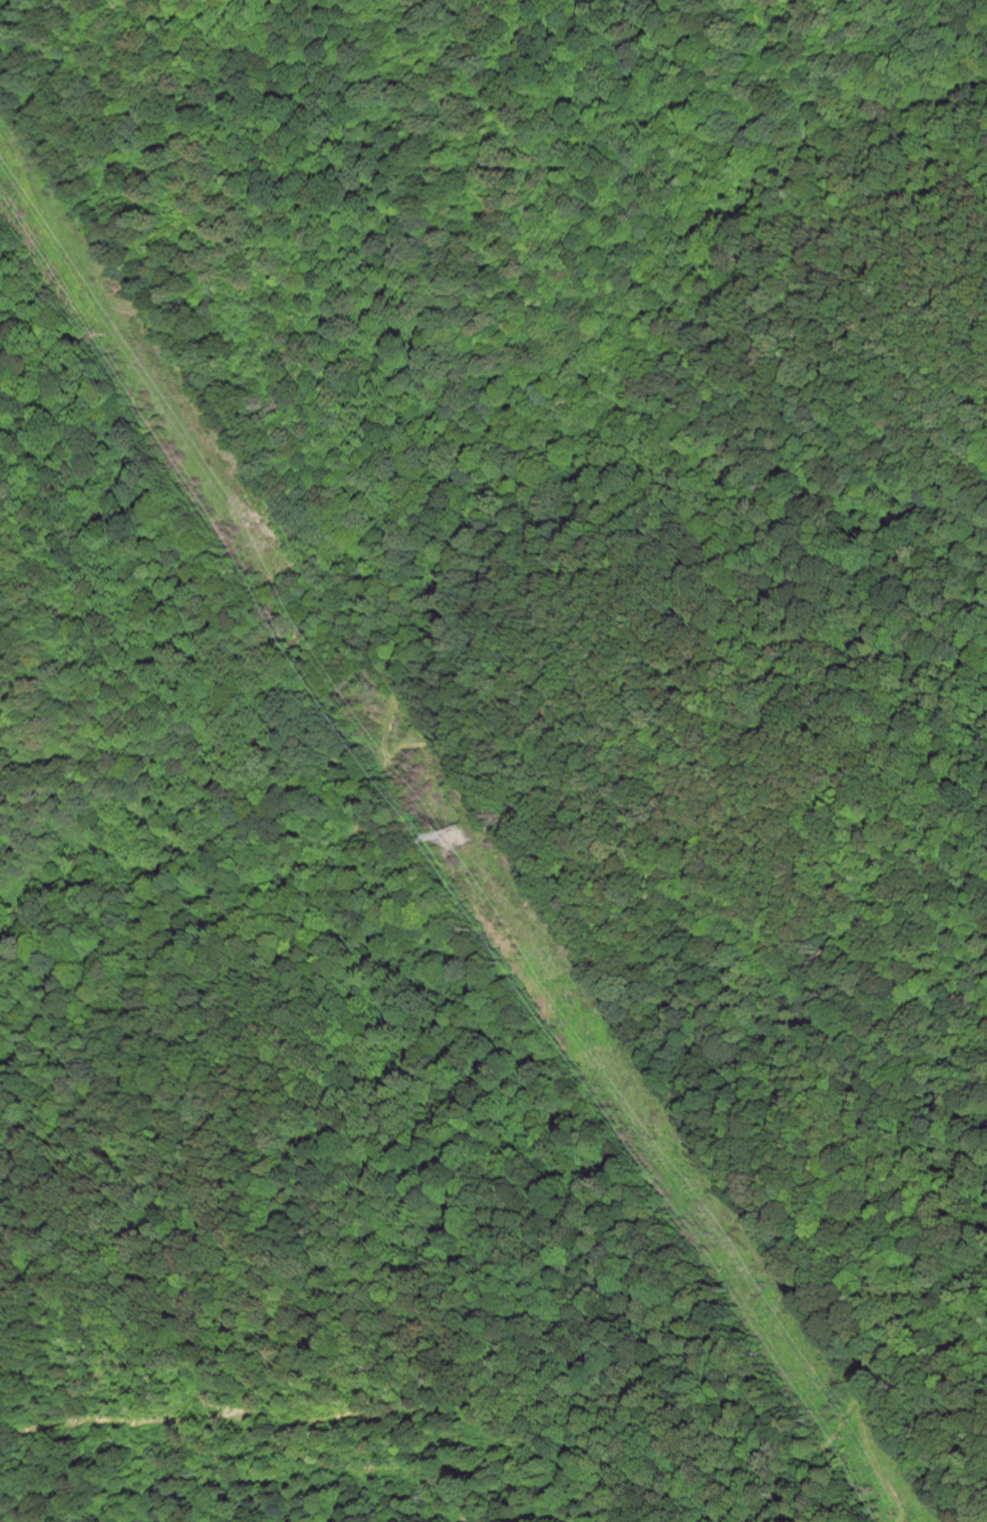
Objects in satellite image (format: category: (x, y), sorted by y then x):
power tower: (459, 841)

